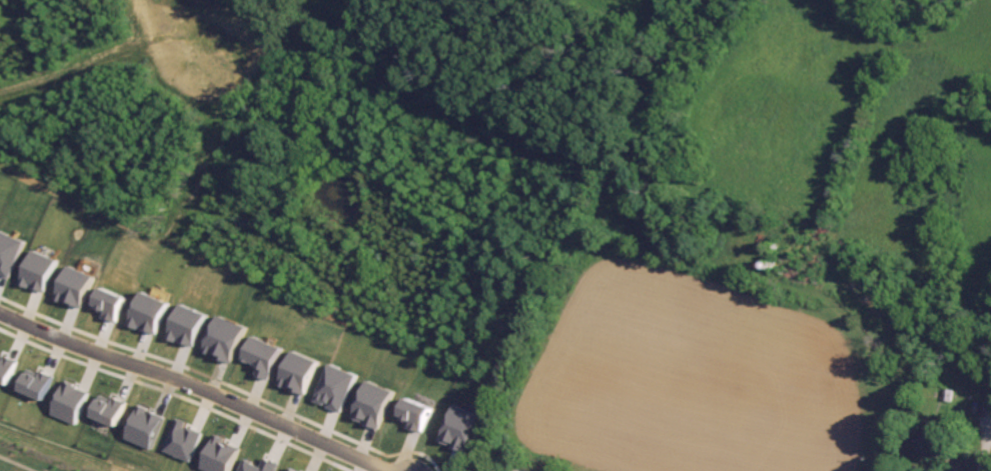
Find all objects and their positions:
building: (265, 355)
road: (192, 388)
building: (70, 402)
building: (375, 404)
building: (461, 427)
building: (931, 440)
road: (982, 448)
building: (221, 454)
building: (259, 466)
road: (515, 470)

